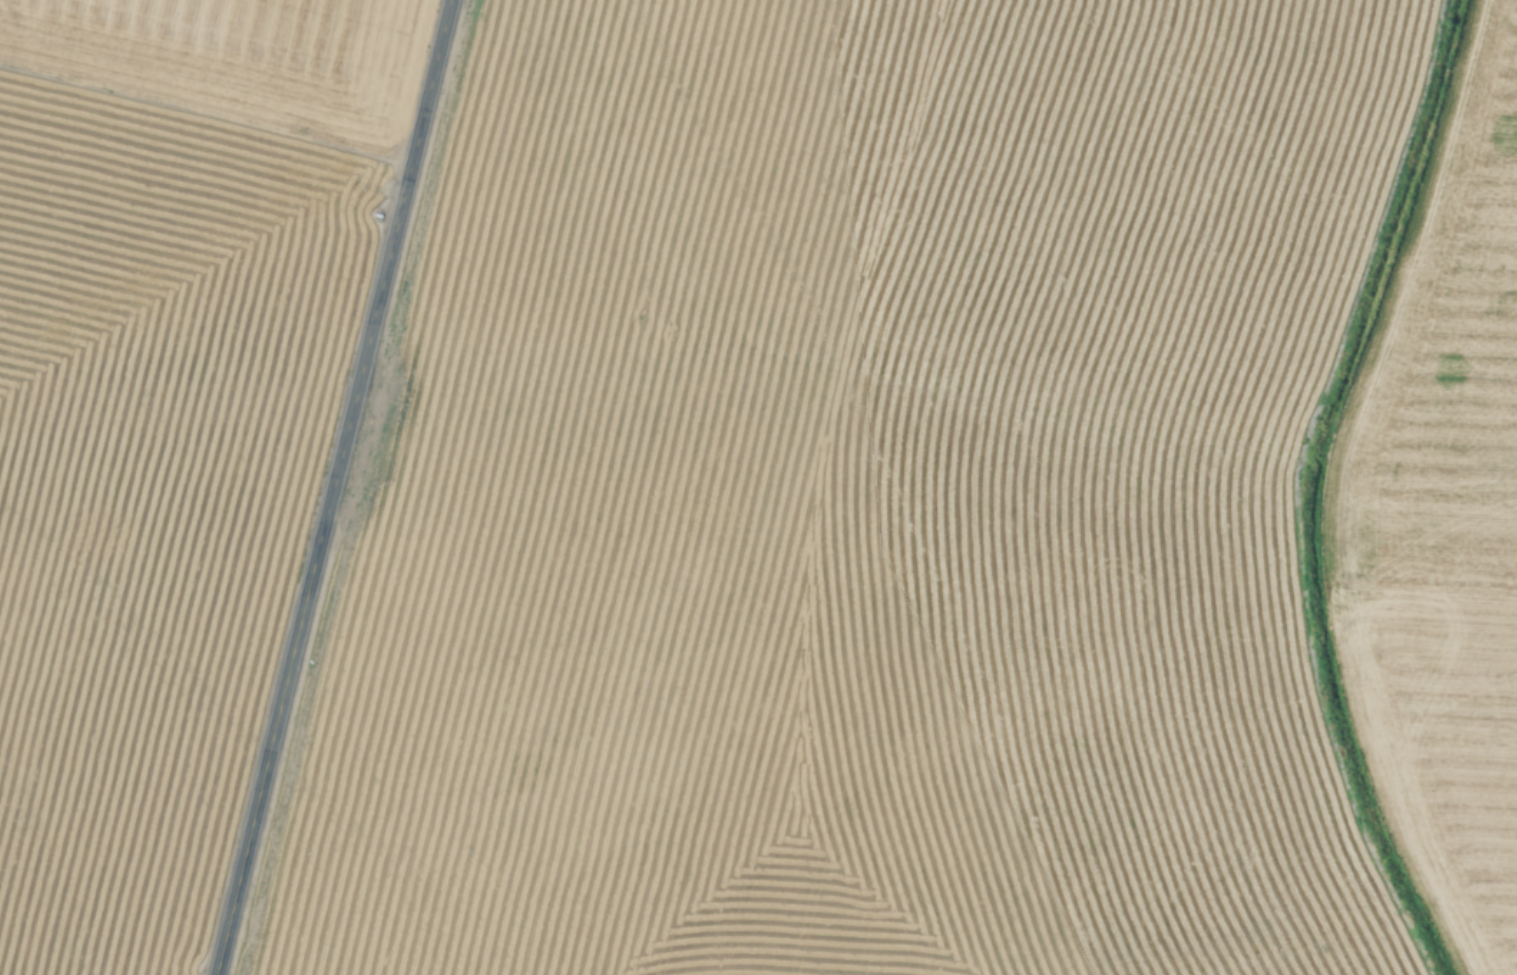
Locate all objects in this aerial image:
crop: (164, 427)
road: (329, 487)
crop: (844, 502)
crop: (1440, 513)

